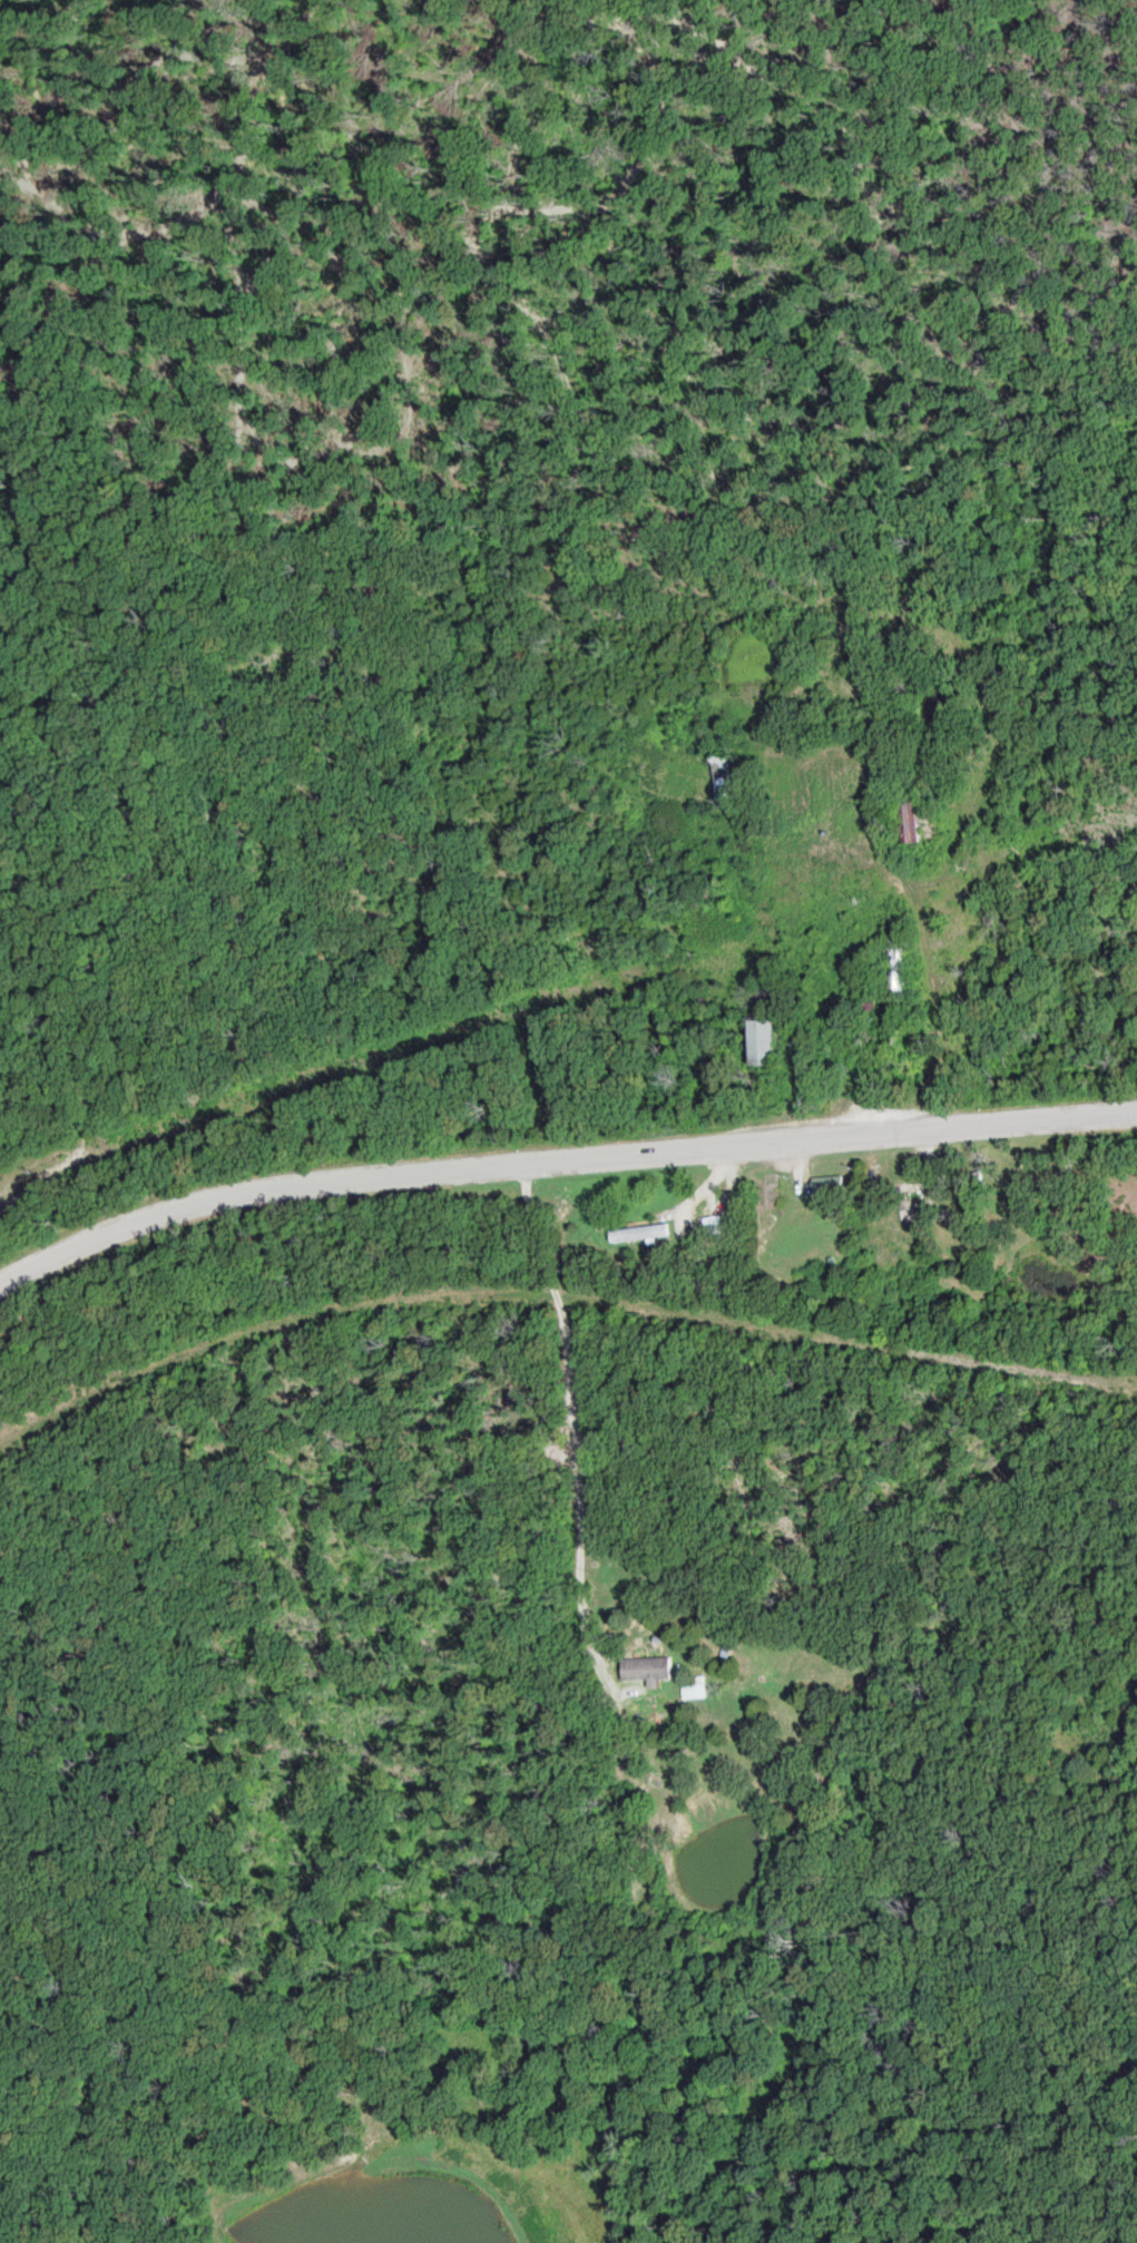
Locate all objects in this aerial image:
building: (722, 777)
building: (894, 970)
building: (762, 1044)
road: (559, 1160)
building: (635, 1235)
railway: (559, 1302)
road: (570, 1405)
building: (640, 1671)
building: (688, 1691)

